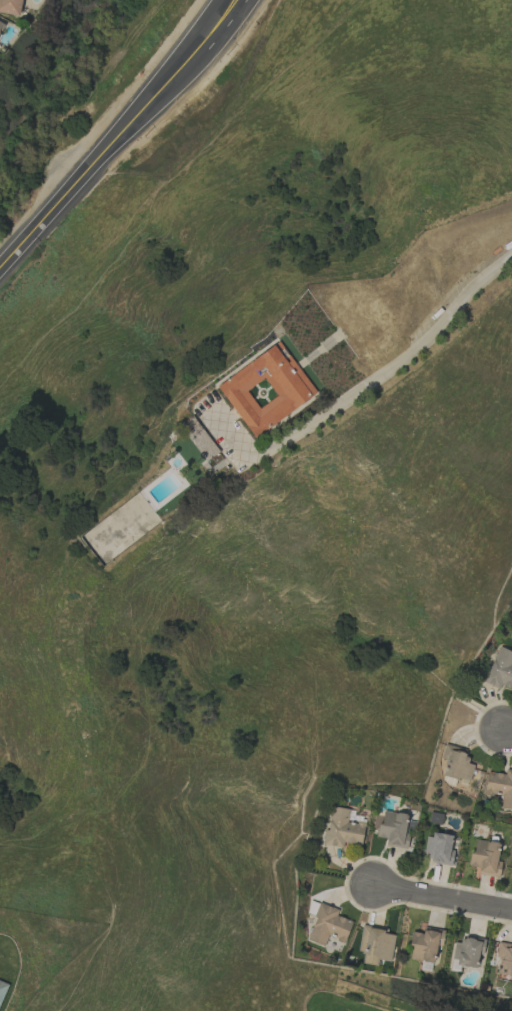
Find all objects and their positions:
building: (10, 6)
building: (1, 25)
road: (119, 137)
road: (411, 349)
building: (266, 389)
building: (500, 669)
road: (510, 734)
building: (456, 763)
building: (500, 787)
building: (342, 828)
building: (394, 829)
building: (439, 848)
building: (485, 857)
road: (442, 900)
building: (328, 926)
building: (425, 944)
building: (375, 945)
building: (468, 952)
building: (504, 961)
building: (2, 988)

